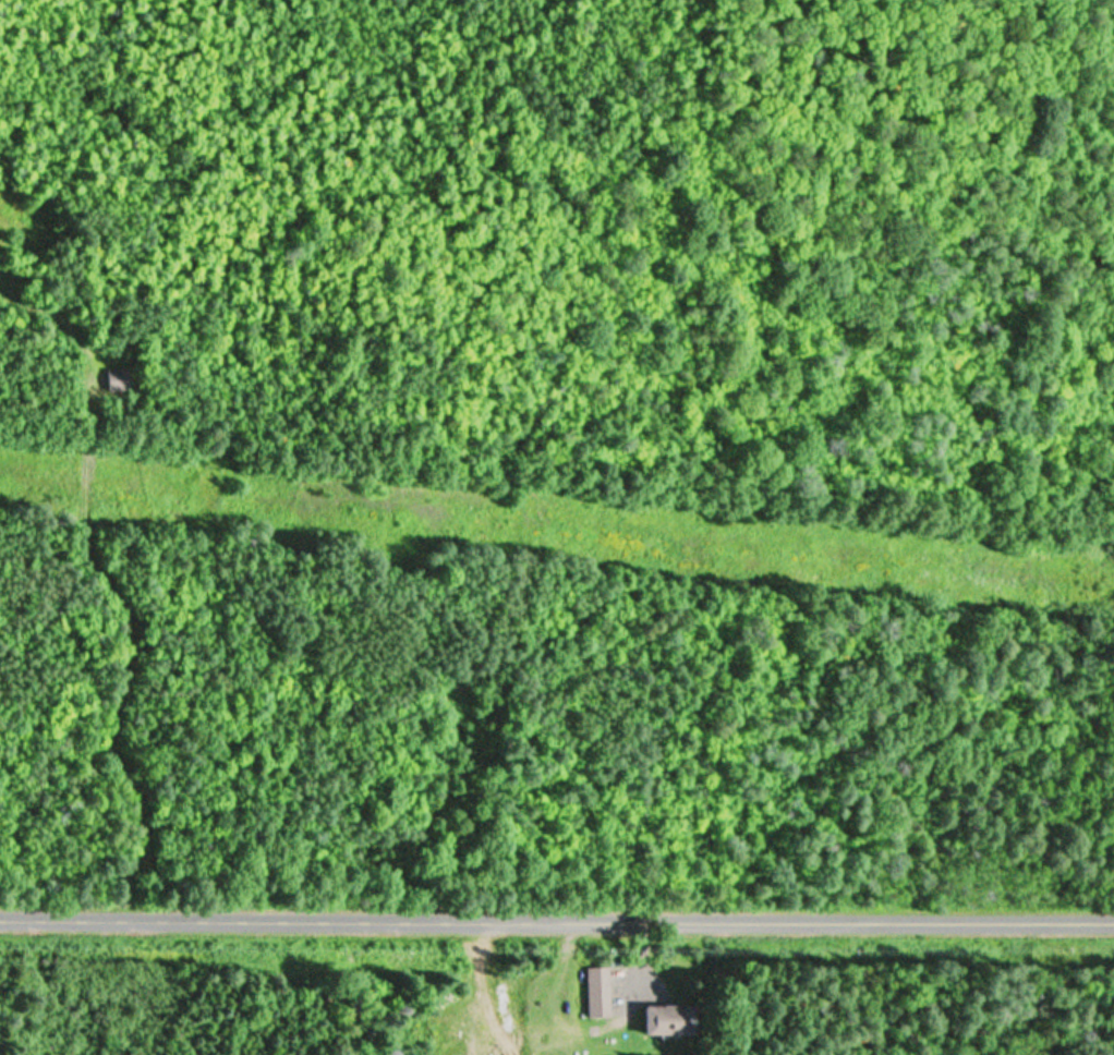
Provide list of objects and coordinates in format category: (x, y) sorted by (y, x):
building: (112, 380)
road: (557, 927)
building: (594, 994)
building: (661, 1021)

